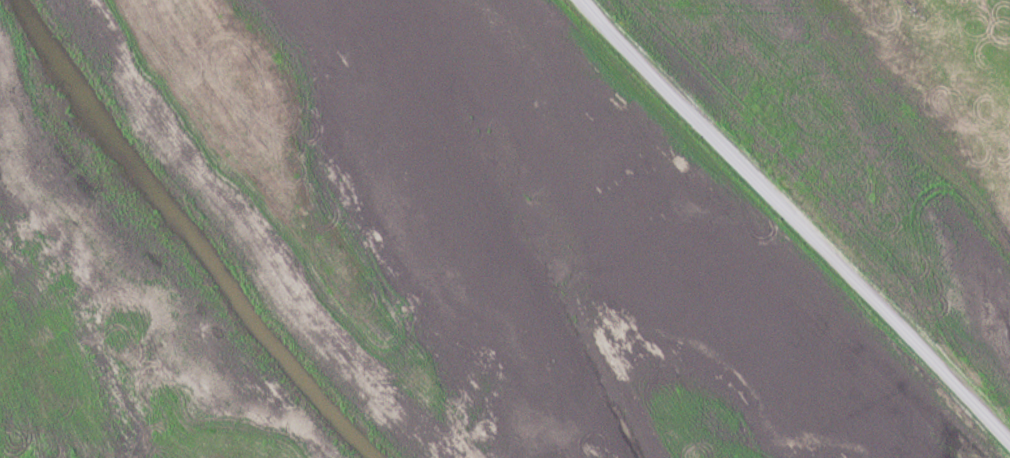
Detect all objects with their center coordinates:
road: (792, 221)

